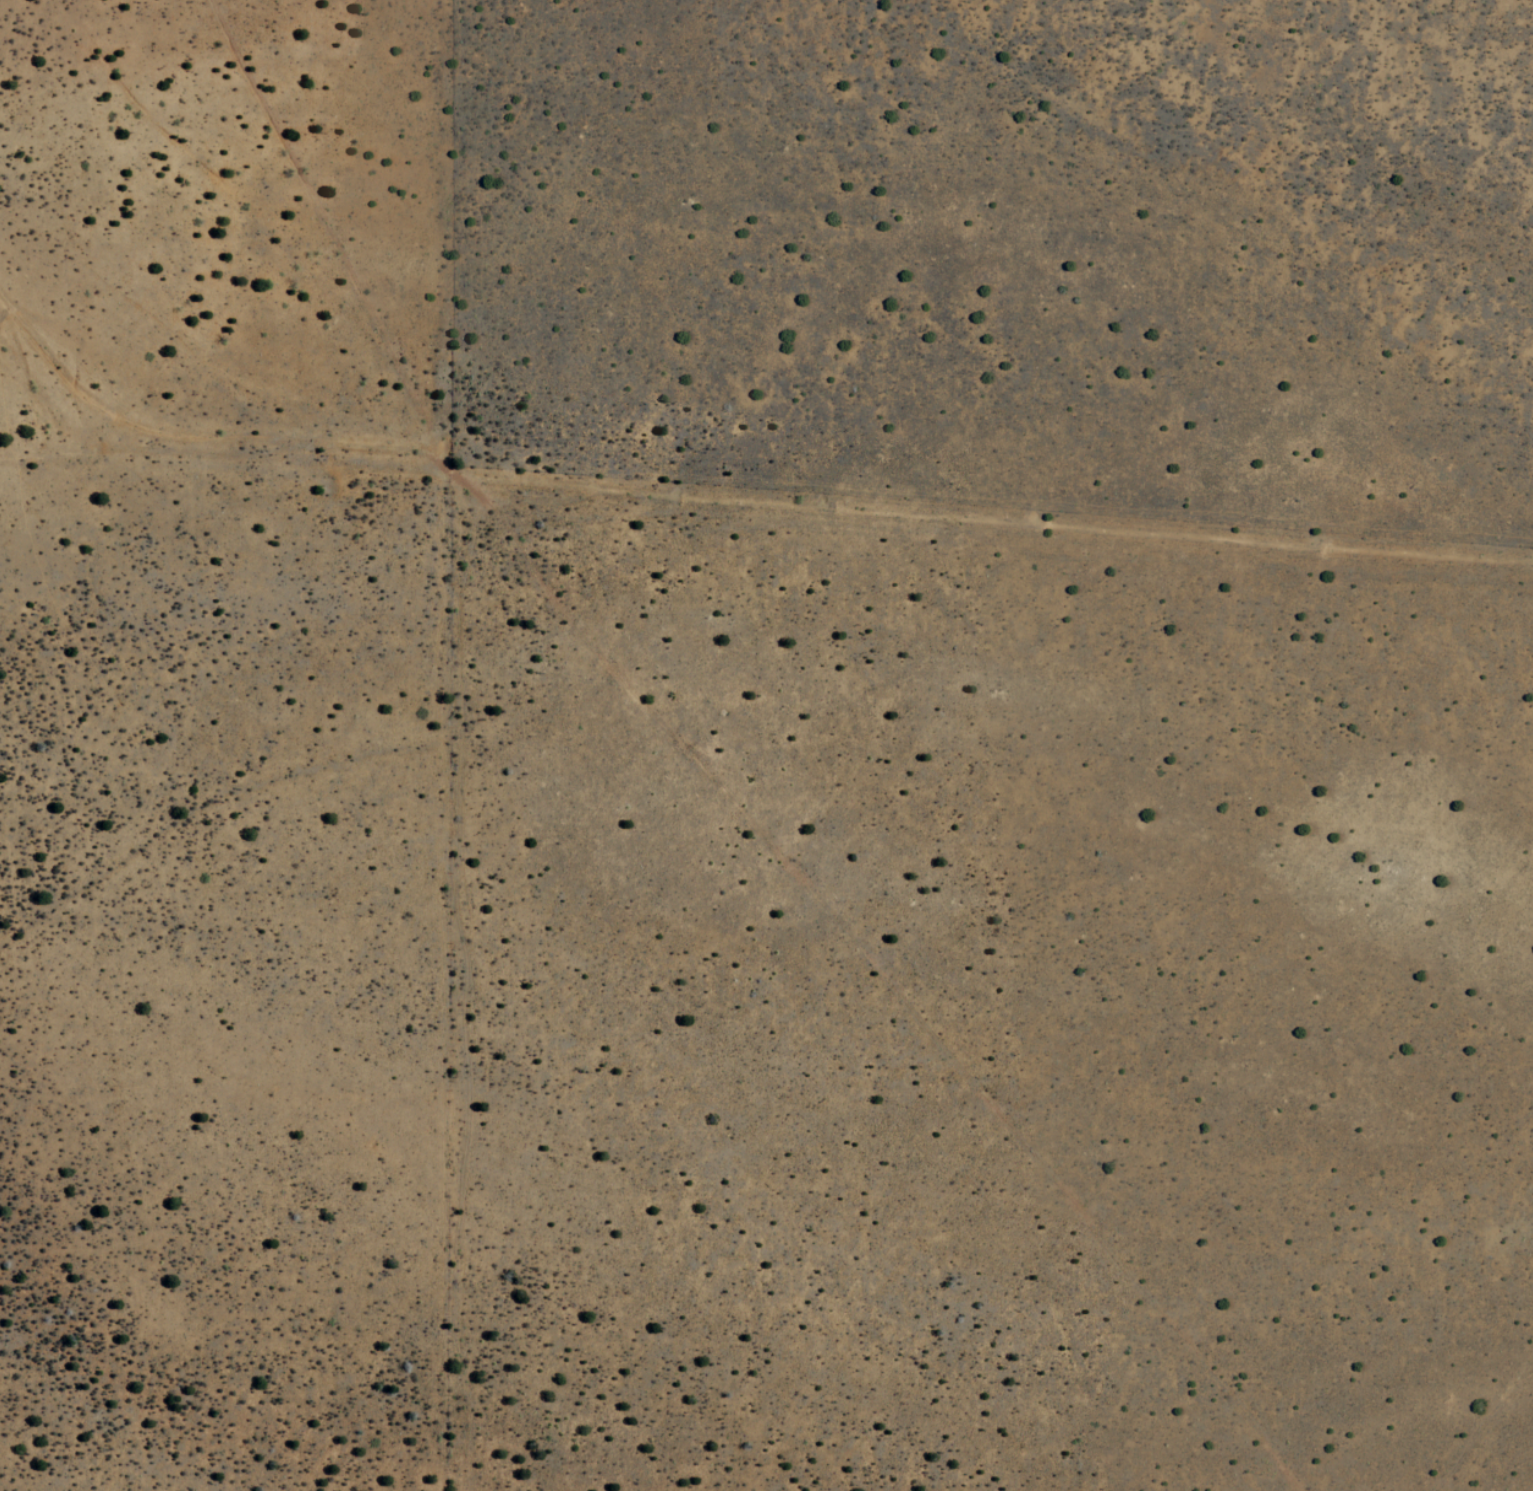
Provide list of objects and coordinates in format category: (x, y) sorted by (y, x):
road: (728, 460)

